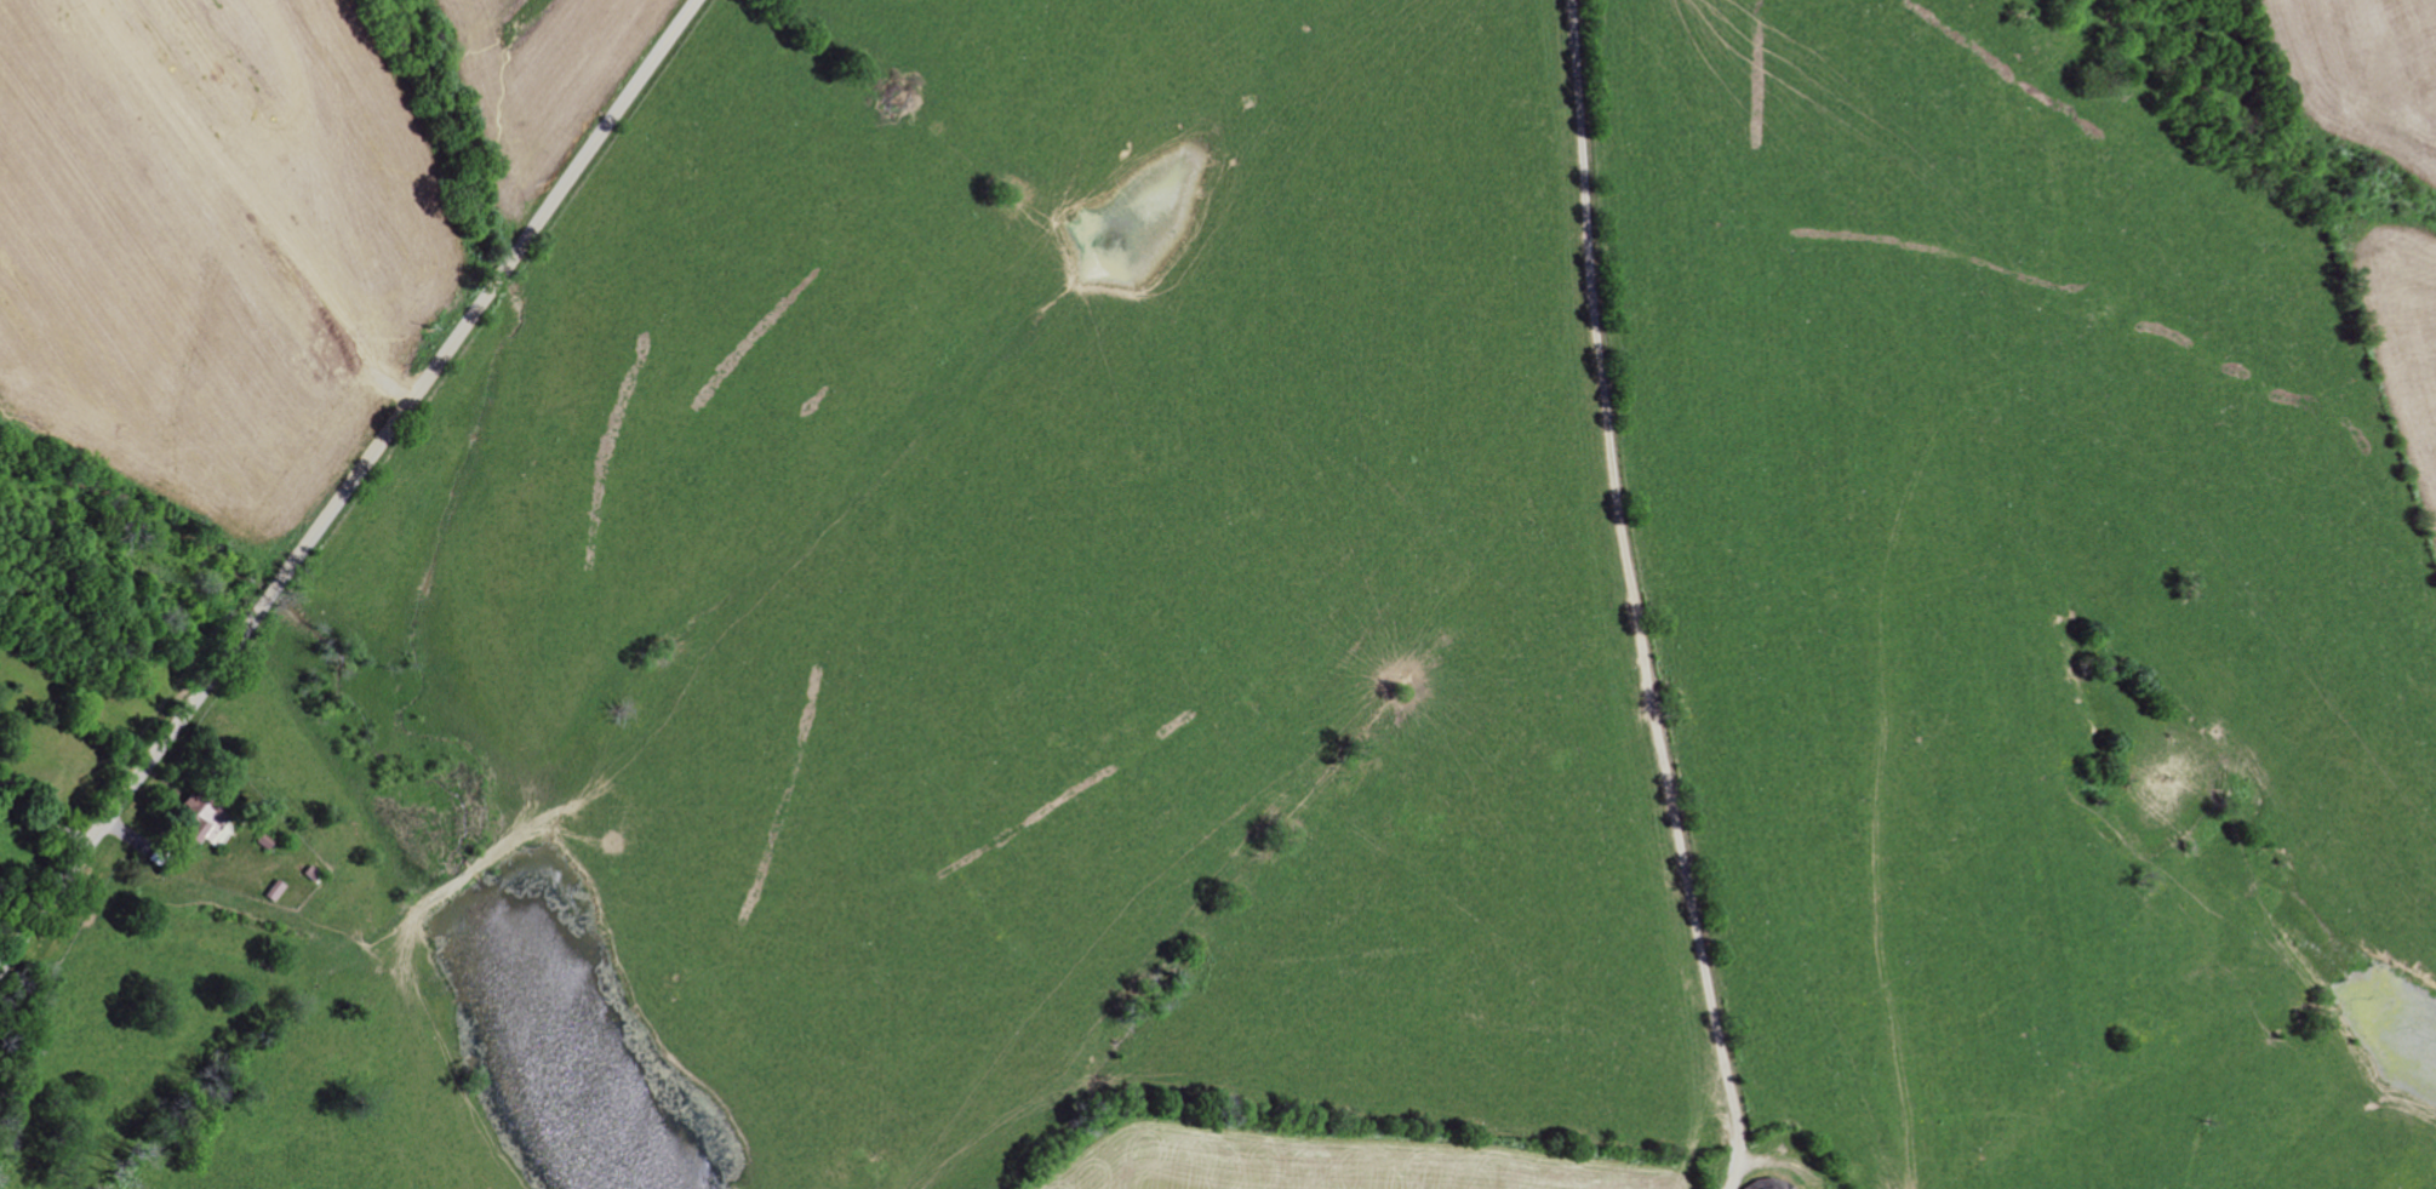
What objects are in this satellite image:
road: (350, 487)
road: (1630, 599)
building: (195, 819)
road: (46, 821)
building: (218, 836)

